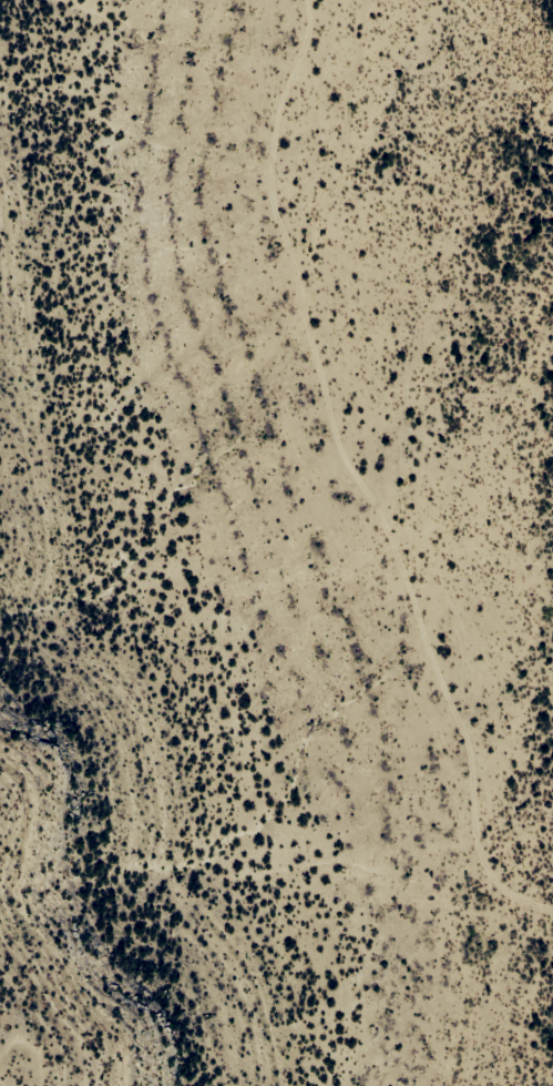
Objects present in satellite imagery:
road: (371, 478)

